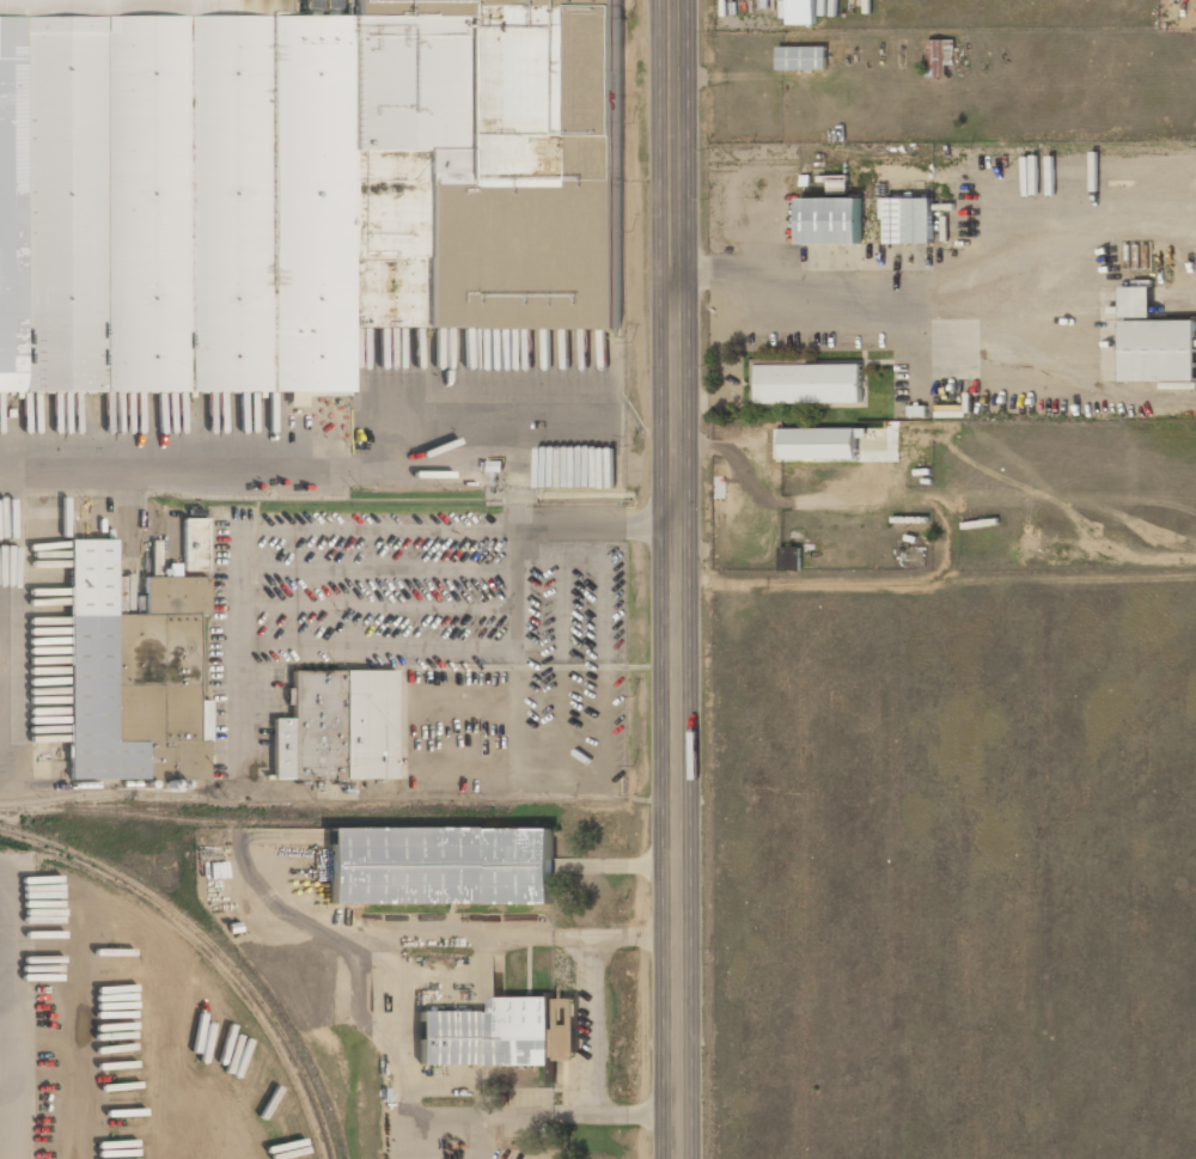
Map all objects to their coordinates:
building: (803, 12)
building: (940, 56)
building: (801, 57)
building: (831, 220)
building: (910, 220)
building: (1136, 301)
building: (1159, 349)
building: (807, 382)
building: (817, 444)
road: (714, 445)
building: (194, 545)
building: (791, 557)
road: (676, 579)
building: (129, 669)
building: (337, 727)
railway: (96, 797)
railway: (126, 809)
railway: (266, 822)
building: (440, 865)
railway: (213, 946)
road: (12, 1021)
building: (501, 1033)

